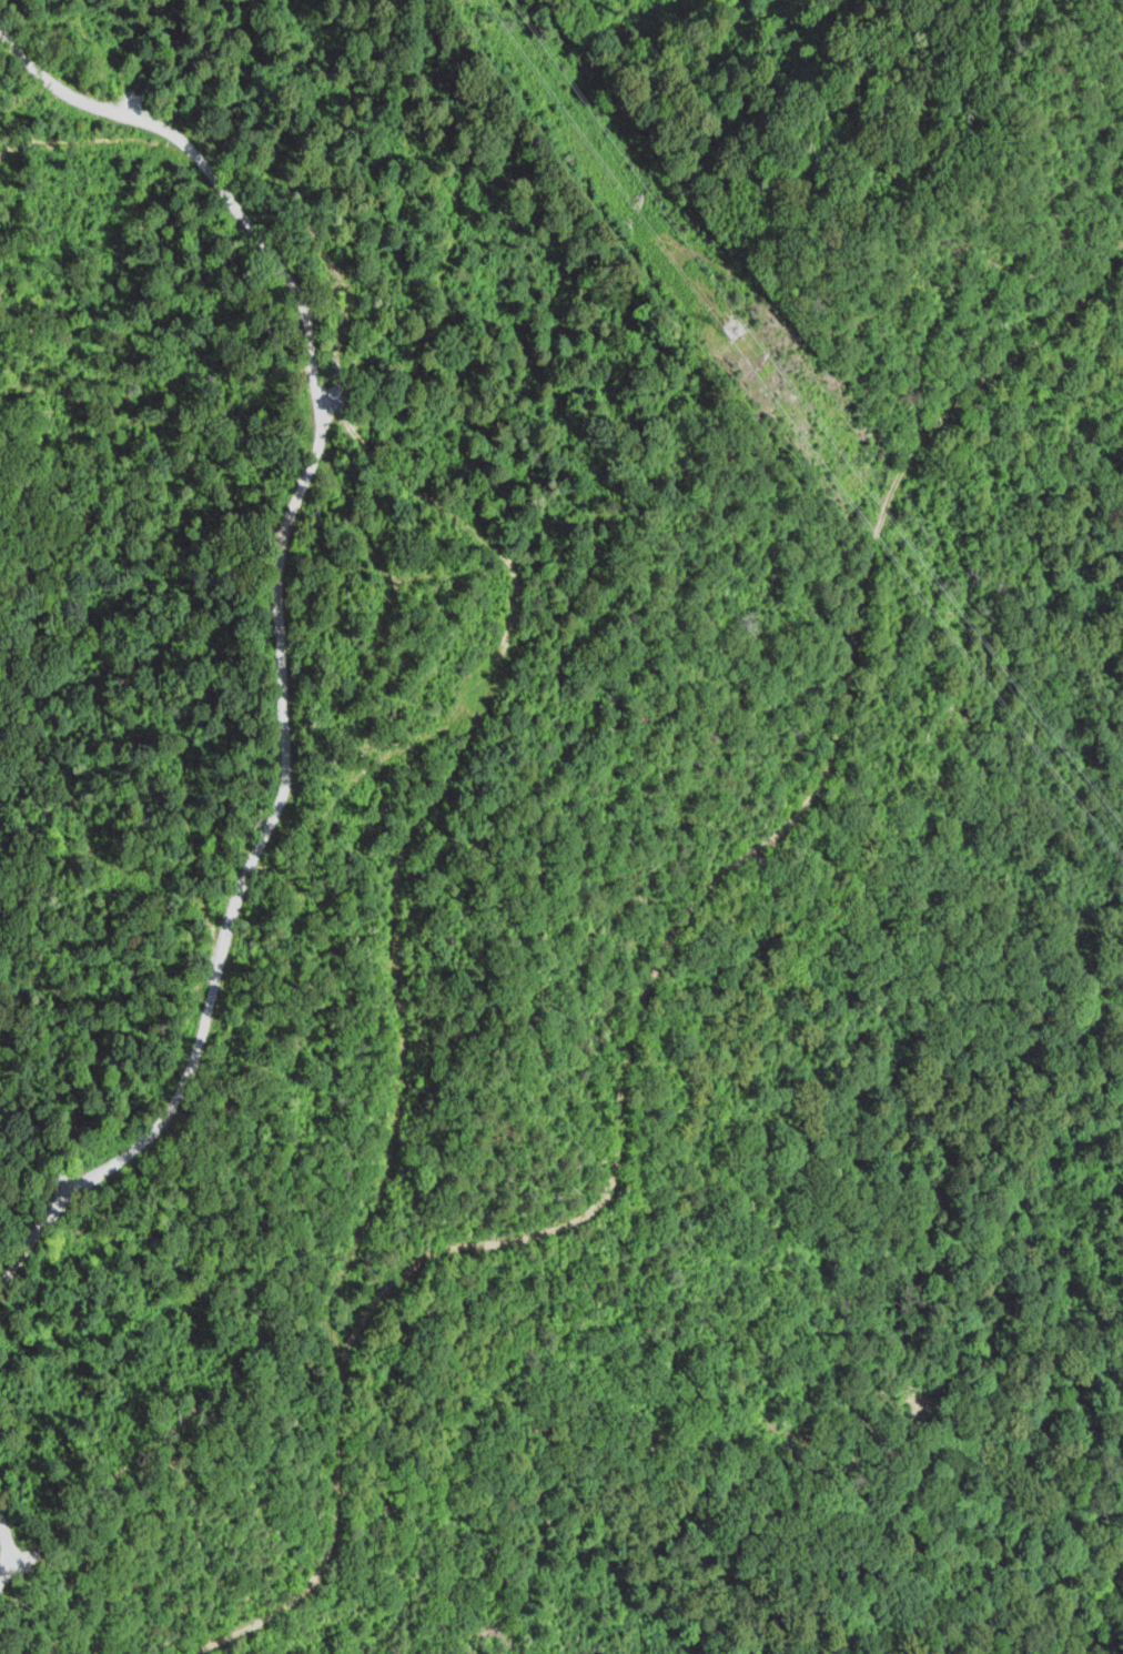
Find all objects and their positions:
road: (144, 208)
power tower: (747, 332)
road: (331, 892)
road: (38, 1423)

